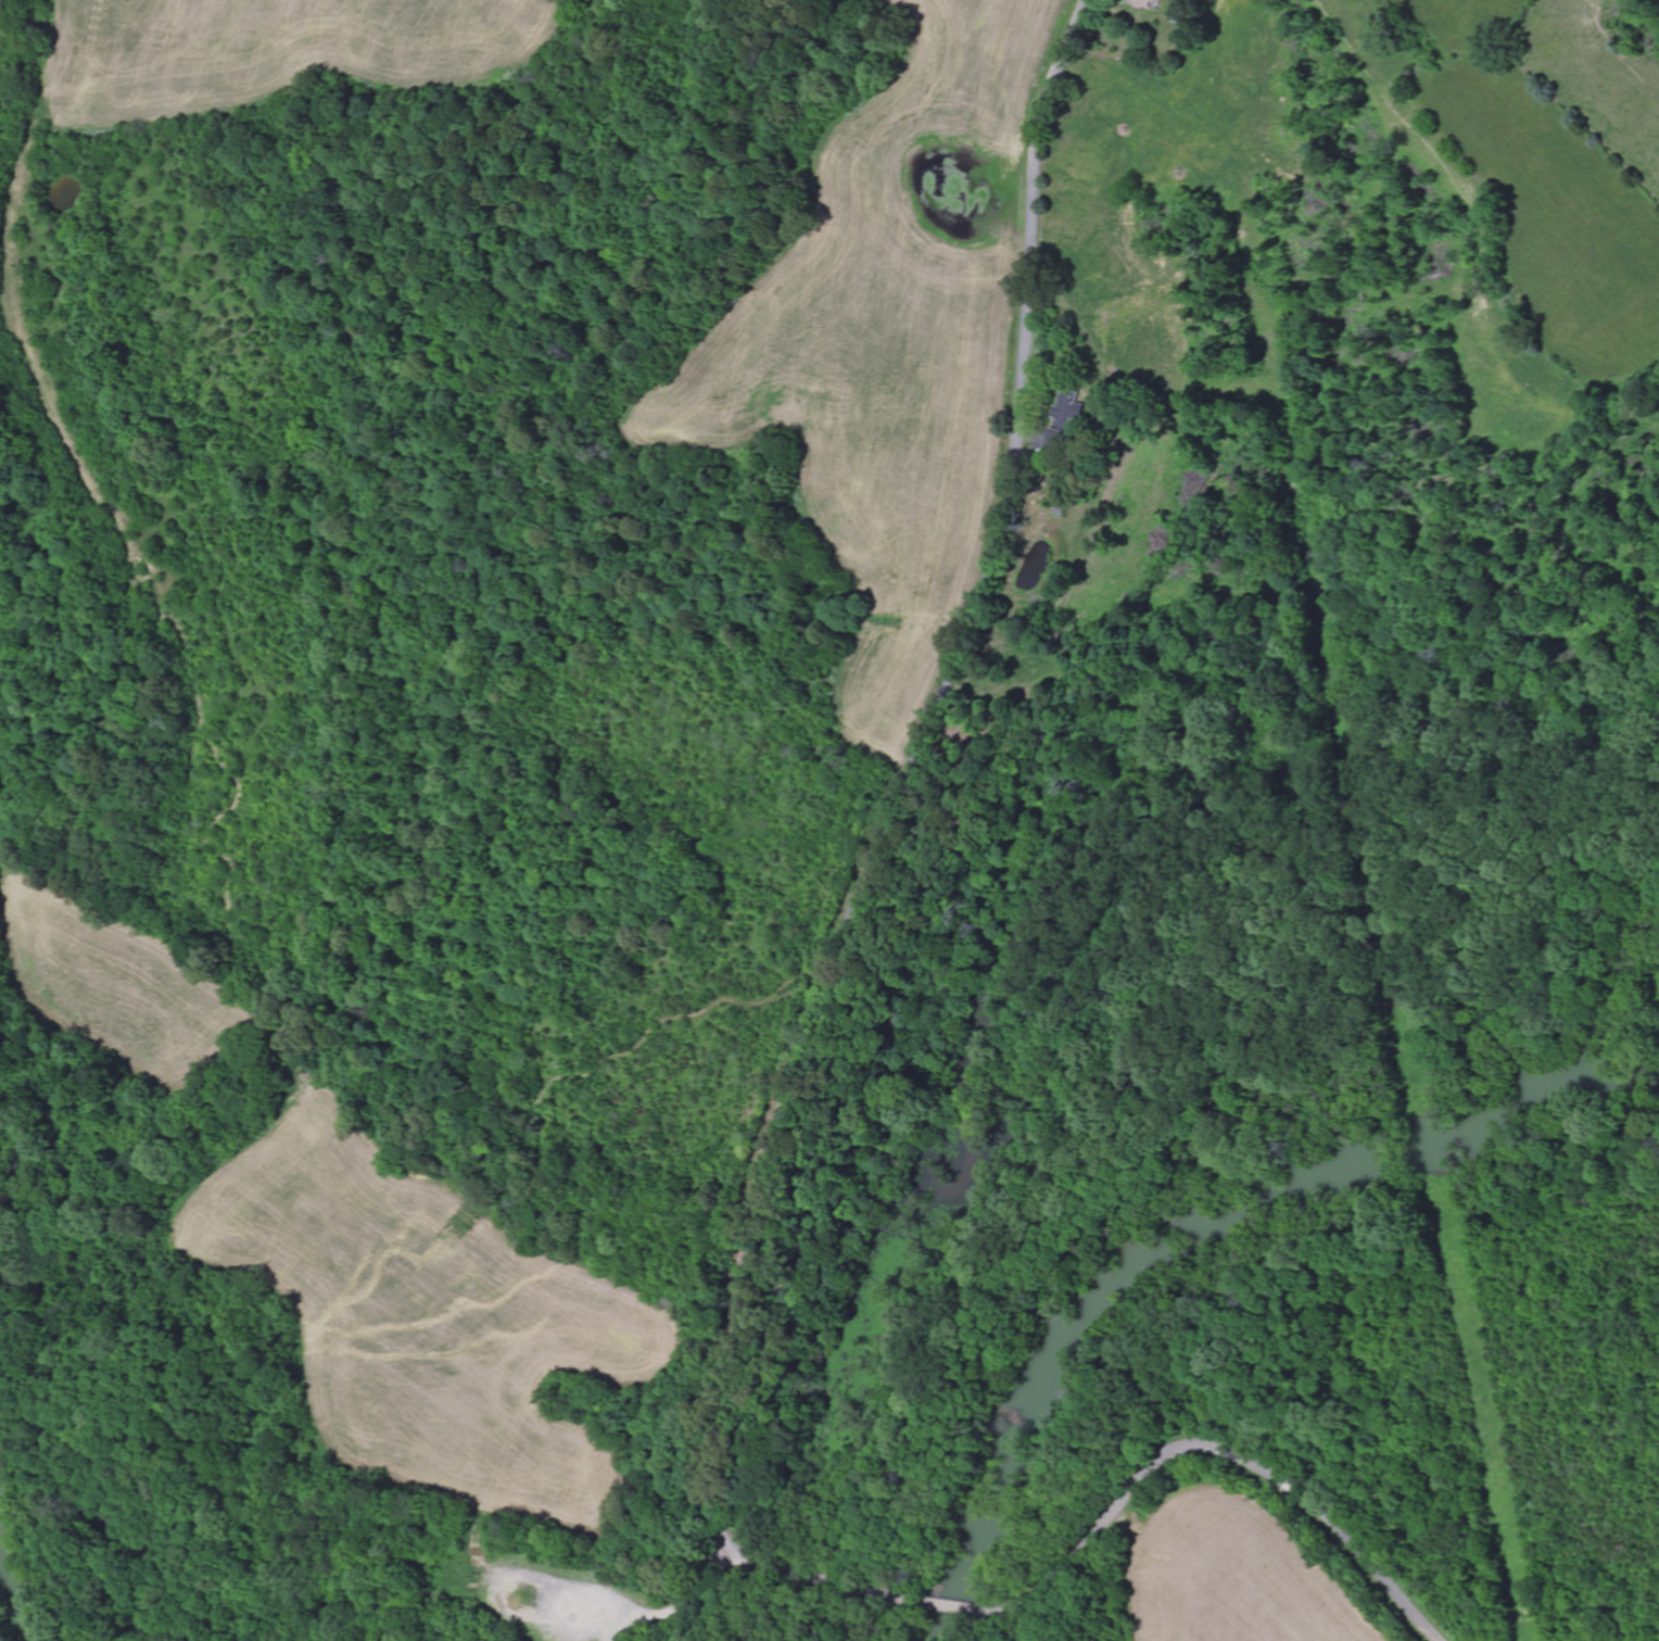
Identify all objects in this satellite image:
building: (1141, 3)
road: (875, 874)
river: (1192, 1233)
road: (1216, 1449)
river: (12, 1605)
road: (961, 1608)
road: (636, 1616)
road: (612, 1629)

